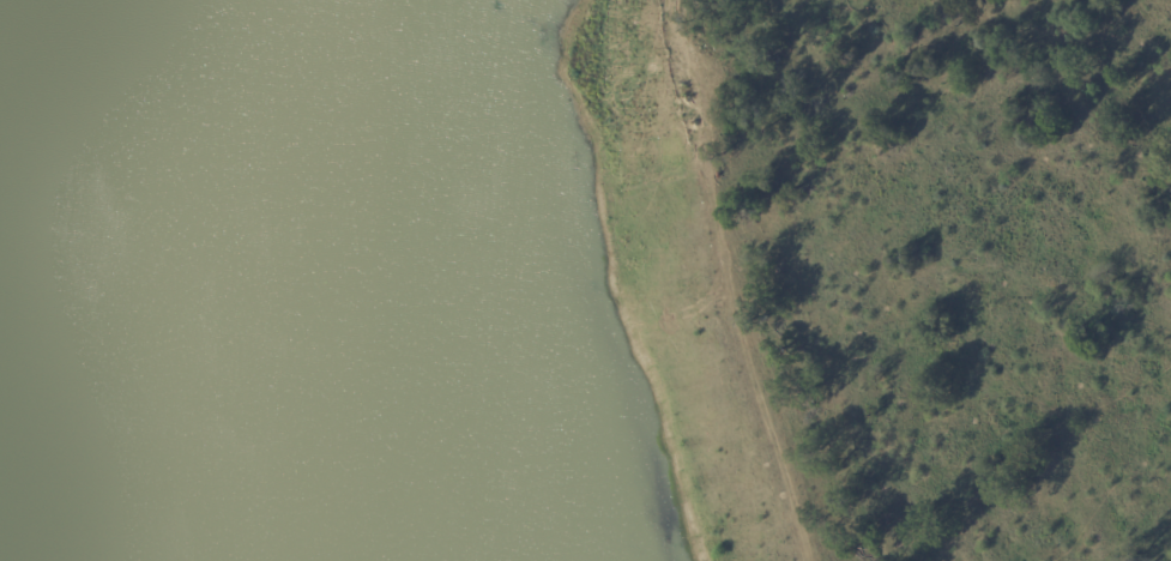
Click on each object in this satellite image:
building: (514, 85)
building: (508, 97)
road: (724, 283)
quarry: (390, 291)

